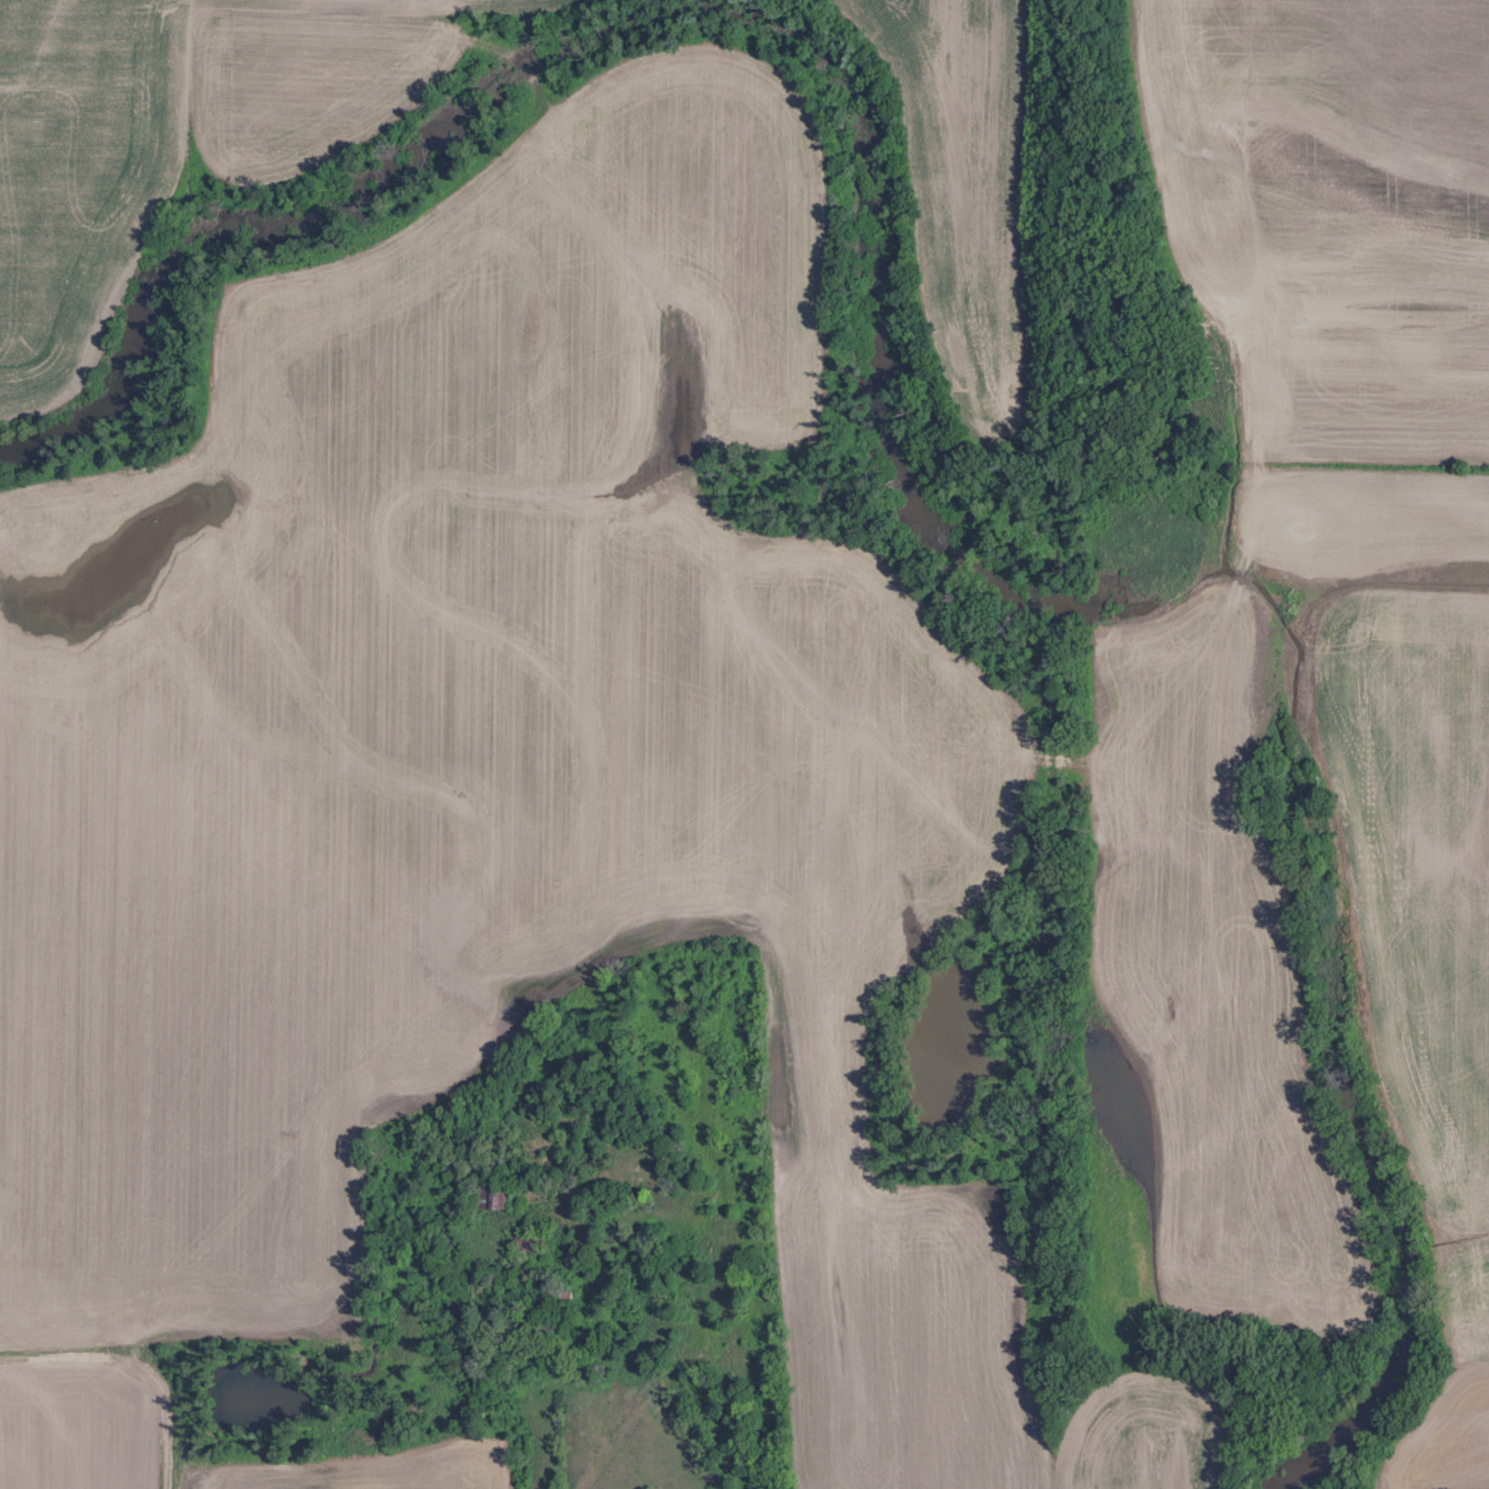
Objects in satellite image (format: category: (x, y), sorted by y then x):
building: (493, 1198)
road: (533, 1463)

